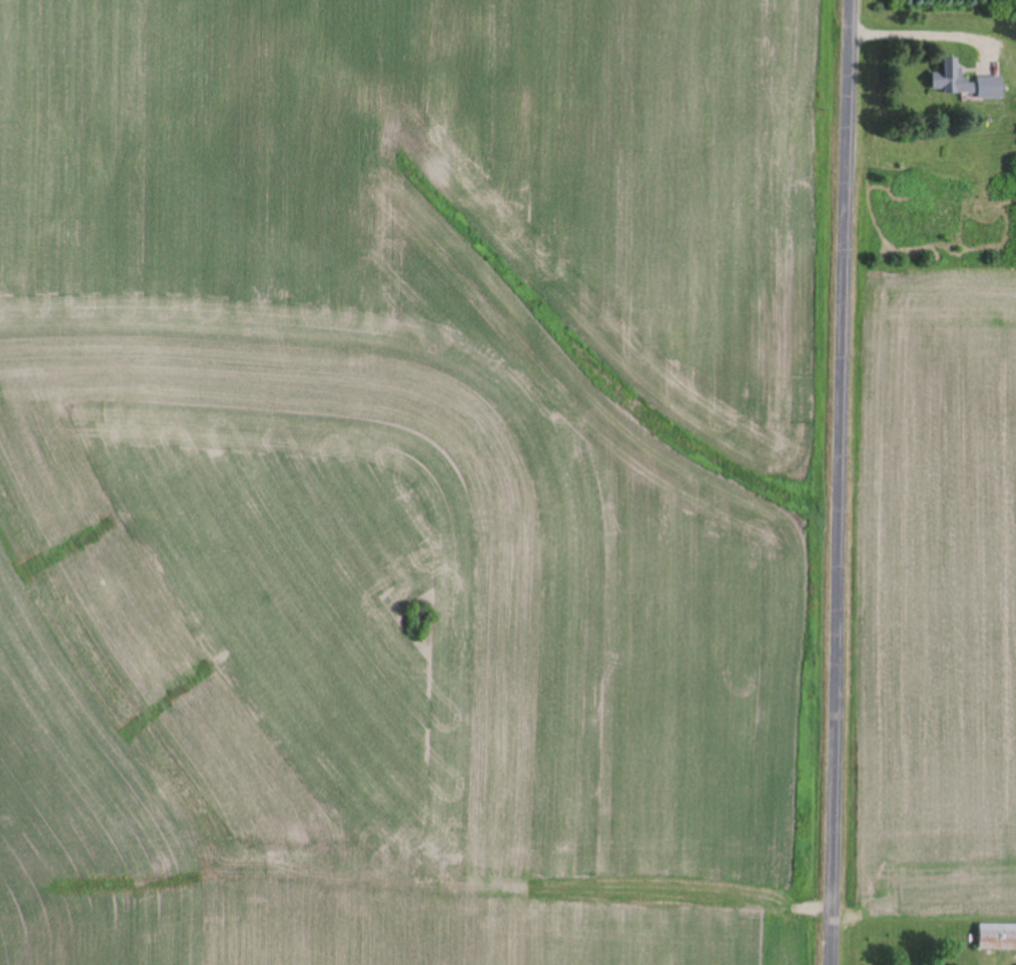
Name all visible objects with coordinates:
building: (964, 83)
road: (840, 482)
building: (997, 938)

